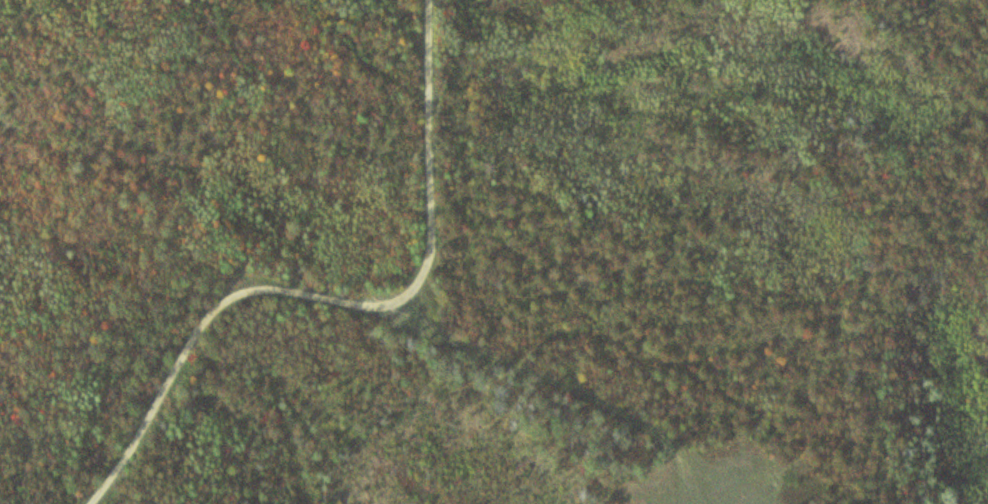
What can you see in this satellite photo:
road: (350, 295)

